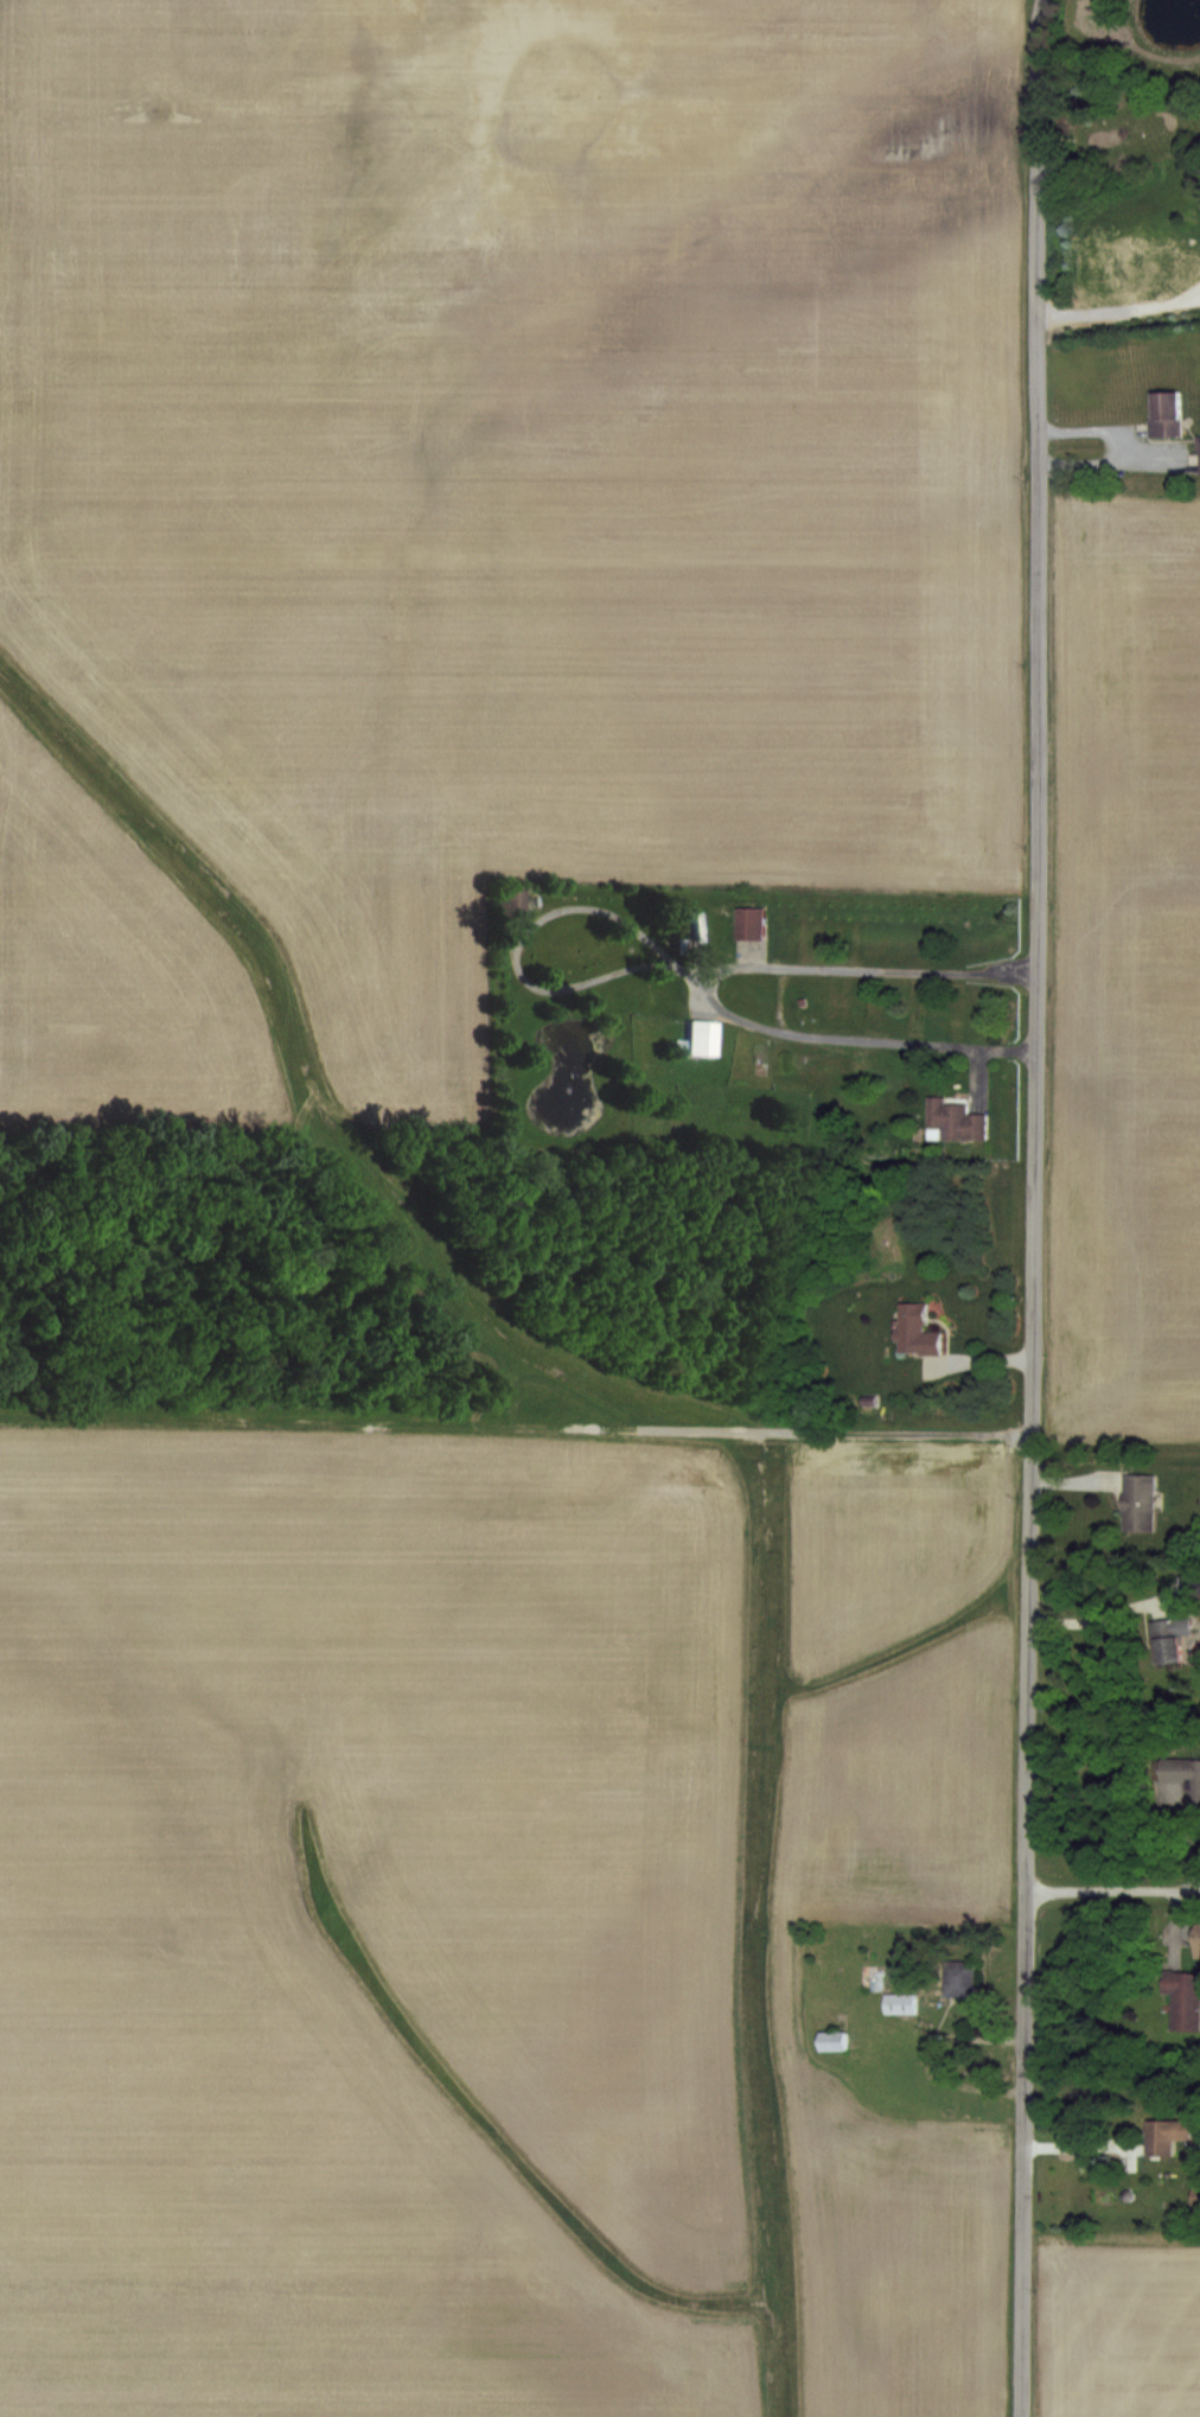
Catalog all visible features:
road: (1033, 58)
building: (1166, 416)
building: (510, 907)
building: (752, 924)
road: (525, 937)
crop: (1110, 958)
building: (700, 1038)
building: (956, 1121)
crop: (486, 1223)
road: (1035, 1268)
building: (919, 1331)
building: (1140, 1503)
building: (1170, 1639)
building: (1185, 1774)
road: (1115, 1892)
building: (1199, 1941)
building: (962, 1979)
building: (1185, 2000)
building: (902, 2003)
building: (835, 2041)
building: (901, 2077)
building: (1172, 2136)
crop: (1118, 2332)

